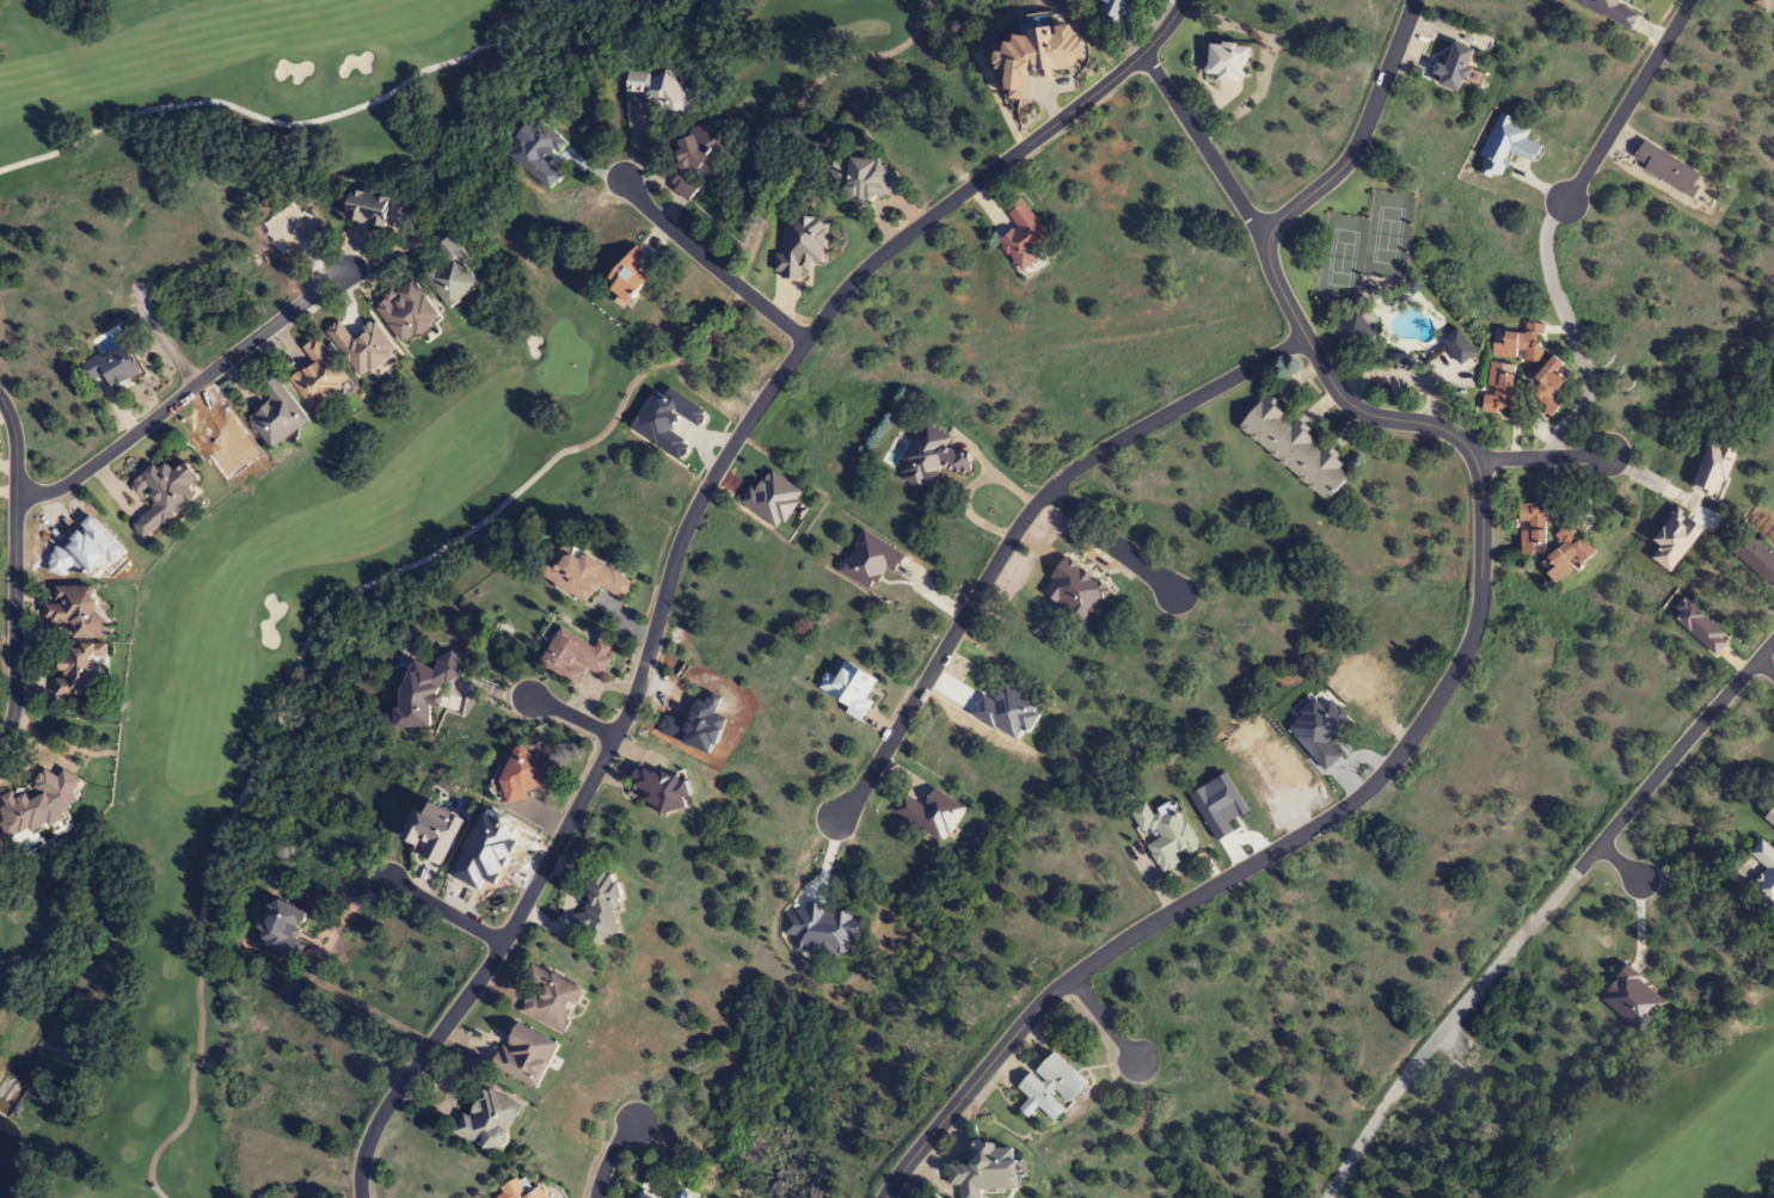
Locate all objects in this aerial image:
building: (1764, 4)
building: (1122, 10)
building: (1614, 12)
building: (1228, 62)
building: (1456, 69)
building: (659, 93)
road: (1625, 131)
road: (1358, 135)
building: (1508, 145)
road: (1203, 146)
building: (701, 150)
building: (1668, 170)
building: (861, 180)
building: (682, 188)
building: (379, 213)
road: (1549, 220)
building: (1024, 236)
road: (711, 264)
building: (452, 275)
building: (630, 277)
building: (407, 314)
building: (1351, 333)
road: (166, 343)
building: (1521, 344)
building: (113, 368)
building: (319, 376)
building: (1548, 388)
building: (1498, 391)
road: (183, 393)
building: (277, 417)
building: (1296, 449)
building: (931, 459)
road: (1542, 459)
park: (318, 489)
building: (167, 496)
road: (1017, 523)
building: (1534, 529)
road: (681, 536)
road: (1110, 542)
building: (1567, 557)
building: (871, 561)
road: (14, 570)
building: (584, 577)
building: (79, 613)
building: (575, 657)
road: (1766, 663)
building: (79, 672)
building: (851, 690)
road: (573, 720)
road: (1385, 772)
building: (523, 775)
building: (667, 788)
building: (1770, 817)
building: (431, 830)
building: (1165, 834)
road: (1620, 861)
building: (1763, 877)
building: (600, 909)
road: (1540, 910)
road: (442, 911)
building: (281, 928)
building: (550, 997)
road: (1106, 1024)
building: (524, 1053)
building: (1051, 1086)
park: (1672, 1117)
building: (489, 1119)
road: (609, 1155)
building: (986, 1169)
building: (521, 1188)
building: (639, 1197)

